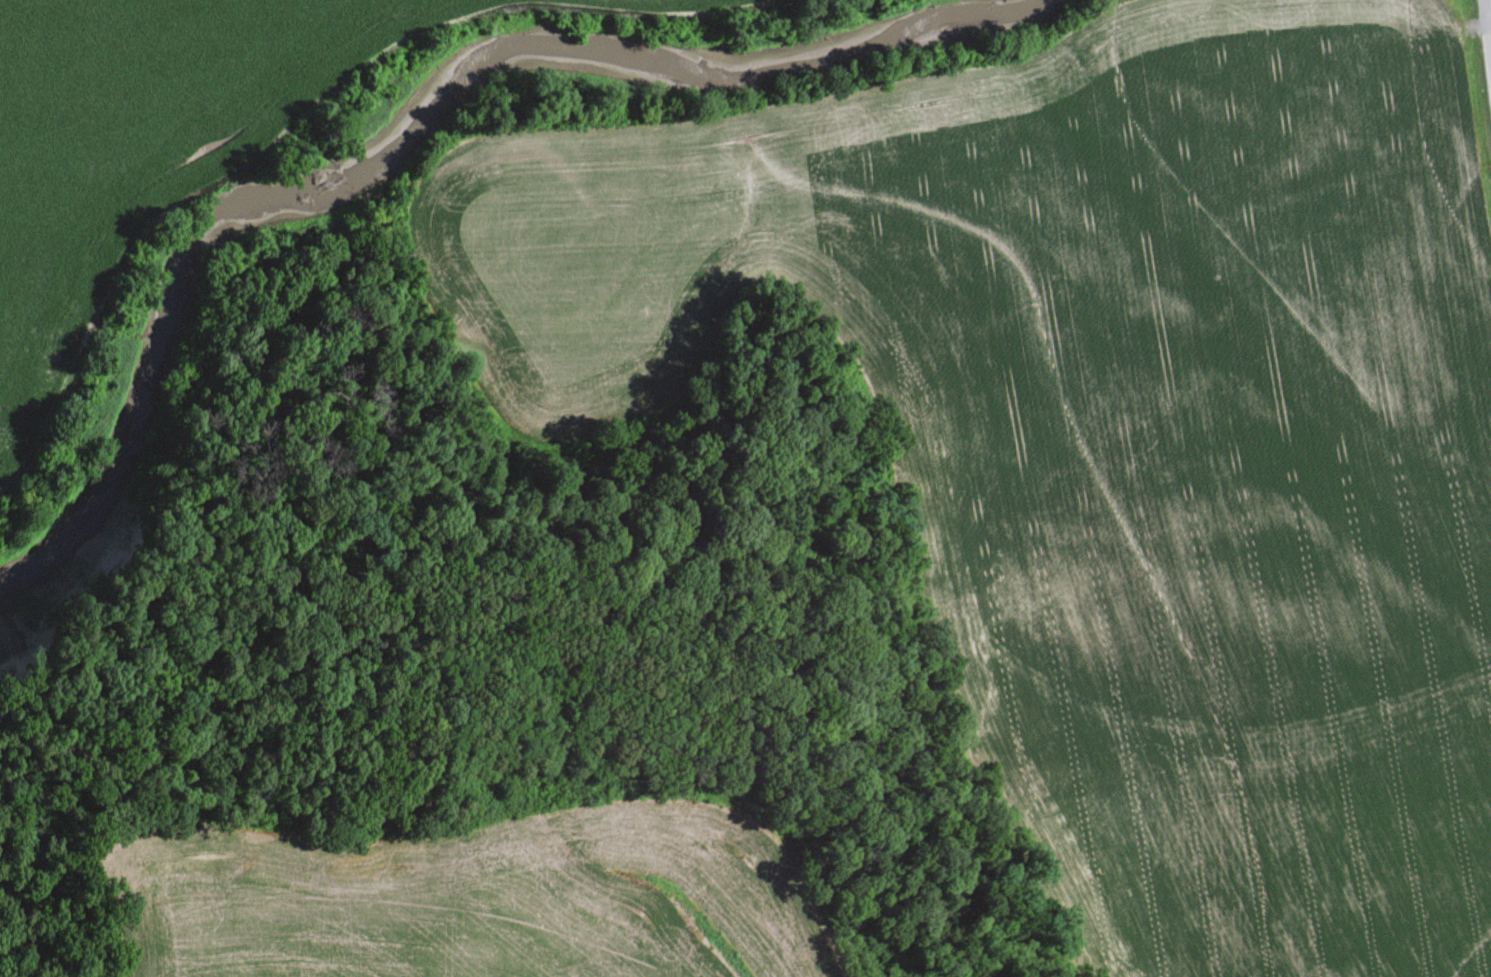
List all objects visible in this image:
road: (1490, 6)
river: (388, 132)

